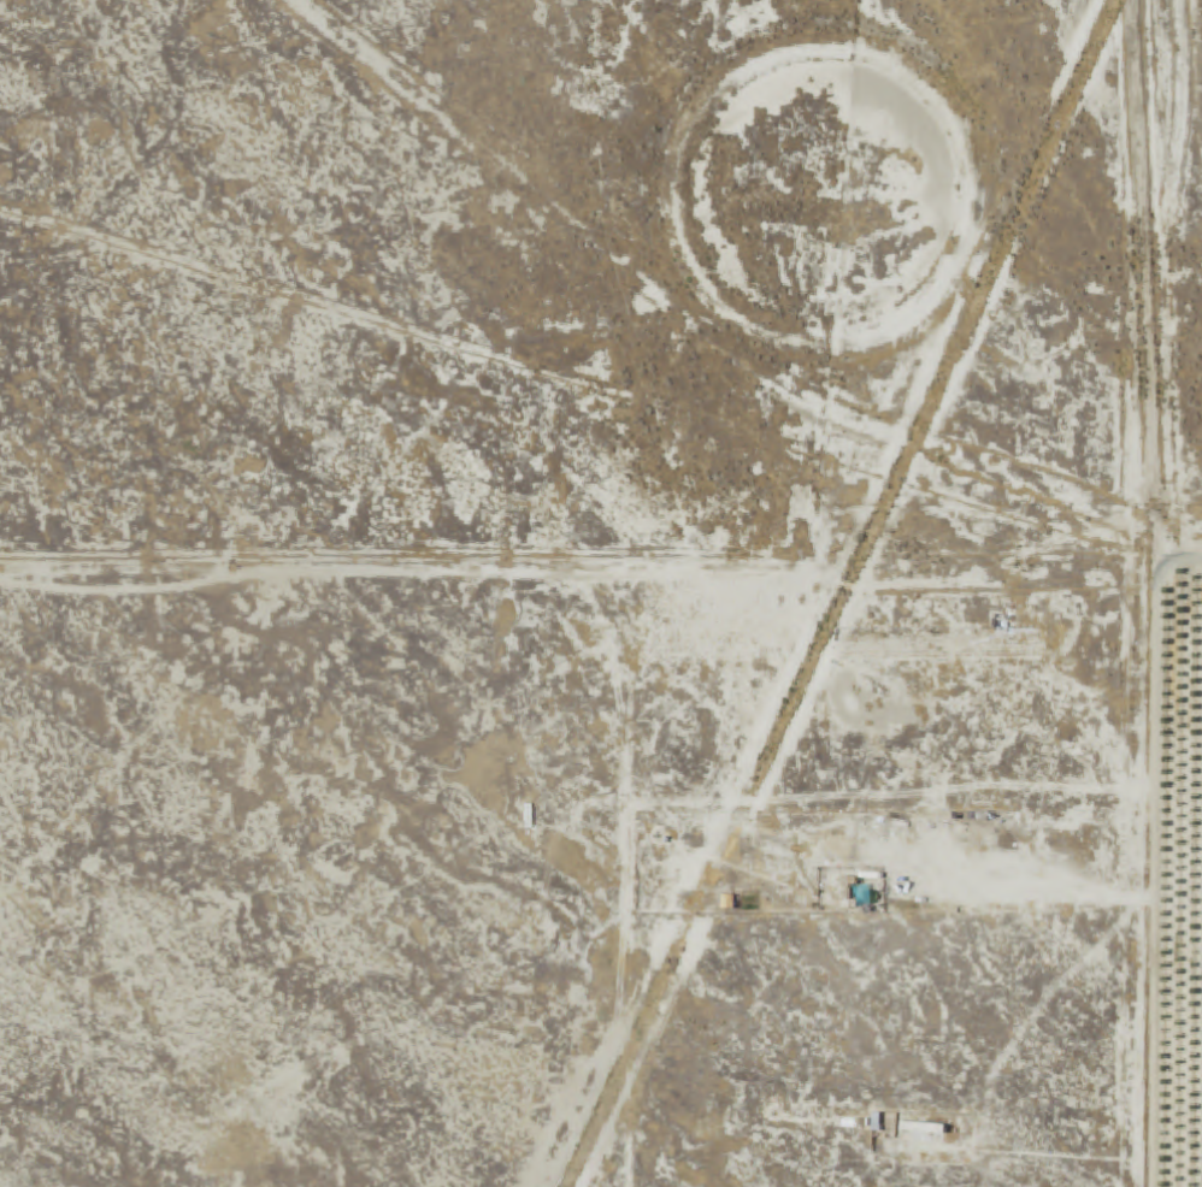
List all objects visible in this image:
wastewater plant: (812, 149)
road: (1142, 284)
road: (1180, 561)
road: (1151, 875)

